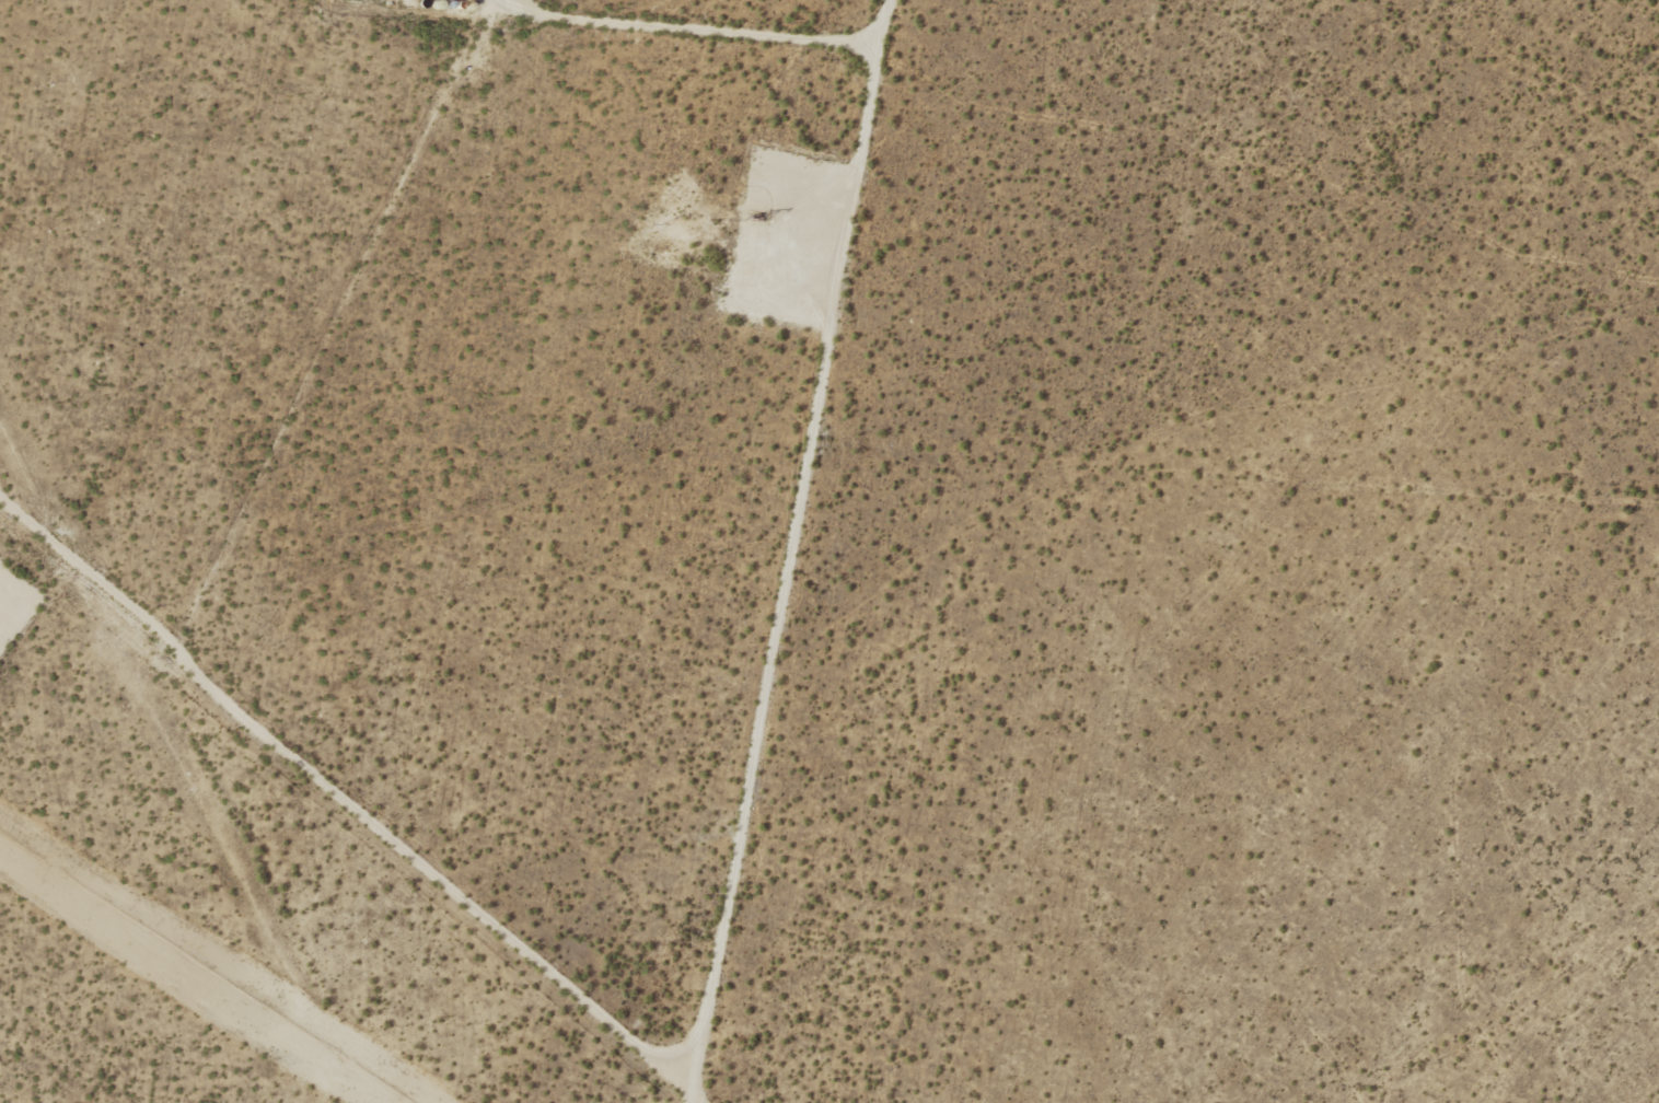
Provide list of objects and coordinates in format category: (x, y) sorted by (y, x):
road: (1230, 469)
road: (788, 550)

